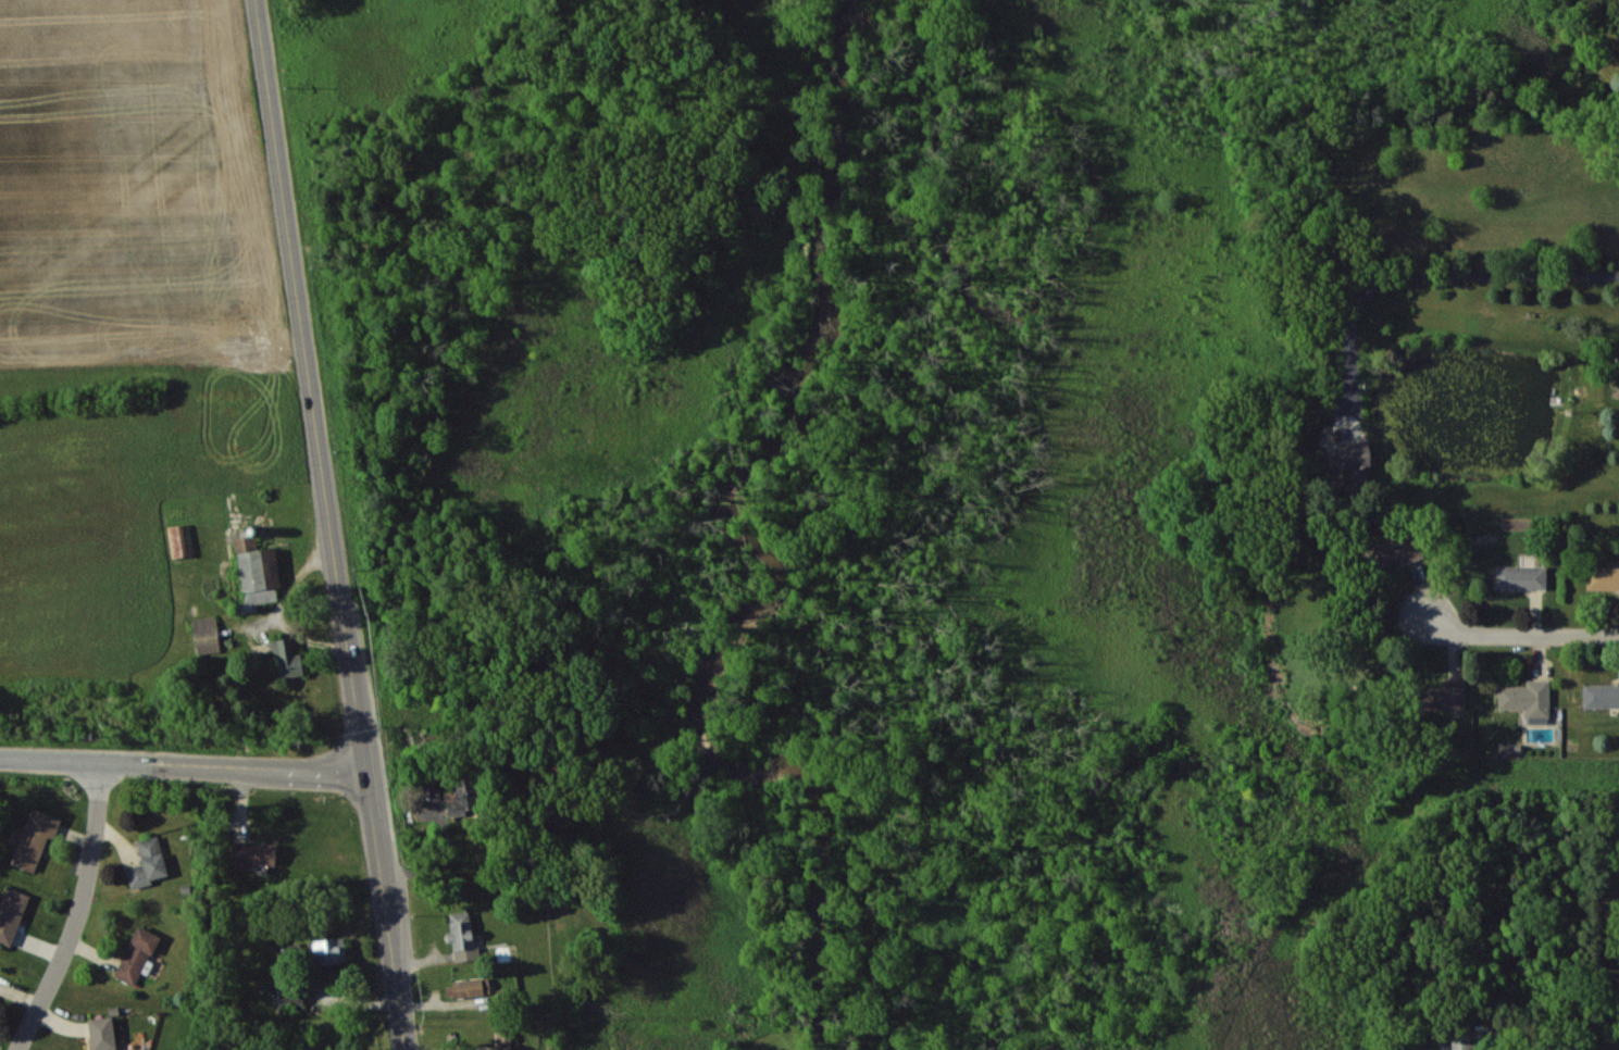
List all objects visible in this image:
road: (1428, 275)
building: (1355, 462)
road: (332, 524)
building: (182, 540)
building: (1394, 550)
building: (256, 573)
building: (1520, 576)
building: (1603, 577)
building: (206, 634)
road: (1516, 634)
building: (286, 658)
building: (1601, 695)
building: (1442, 696)
building: (1528, 699)
road: (183, 765)
building: (466, 798)
building: (557, 821)
building: (35, 838)
building: (253, 852)
building: (148, 862)
road: (80, 912)
building: (11, 913)
building: (462, 936)
building: (329, 950)
building: (136, 954)
building: (464, 987)
building: (290, 997)
building: (102, 1033)
building: (1461, 1036)
building: (503, 1040)
building: (129, 1049)

